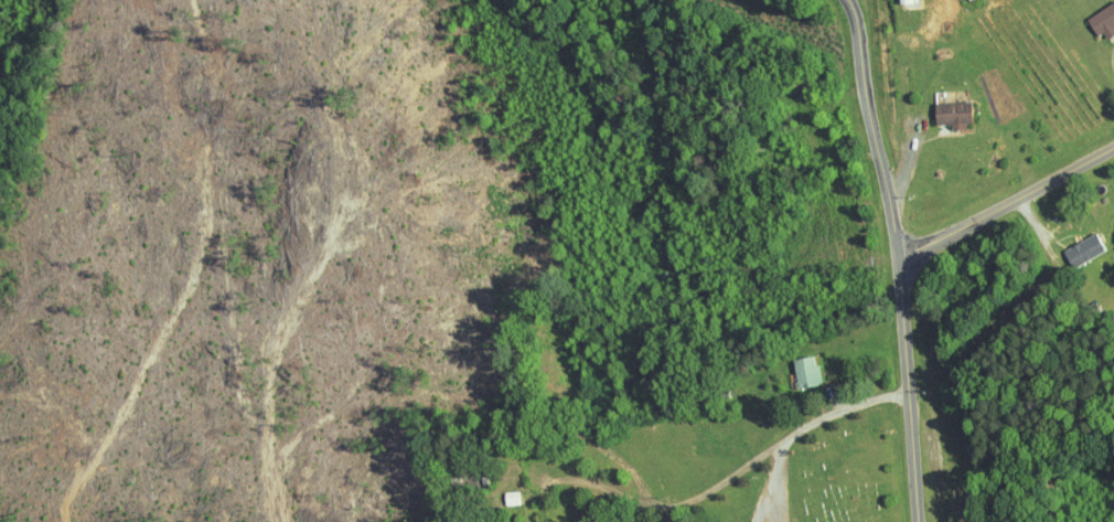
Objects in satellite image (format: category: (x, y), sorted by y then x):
building: (1099, 14)
building: (946, 107)
road: (863, 122)
road: (1003, 193)
building: (1075, 243)
building: (799, 365)
road: (908, 383)
building: (503, 490)
road: (694, 498)

